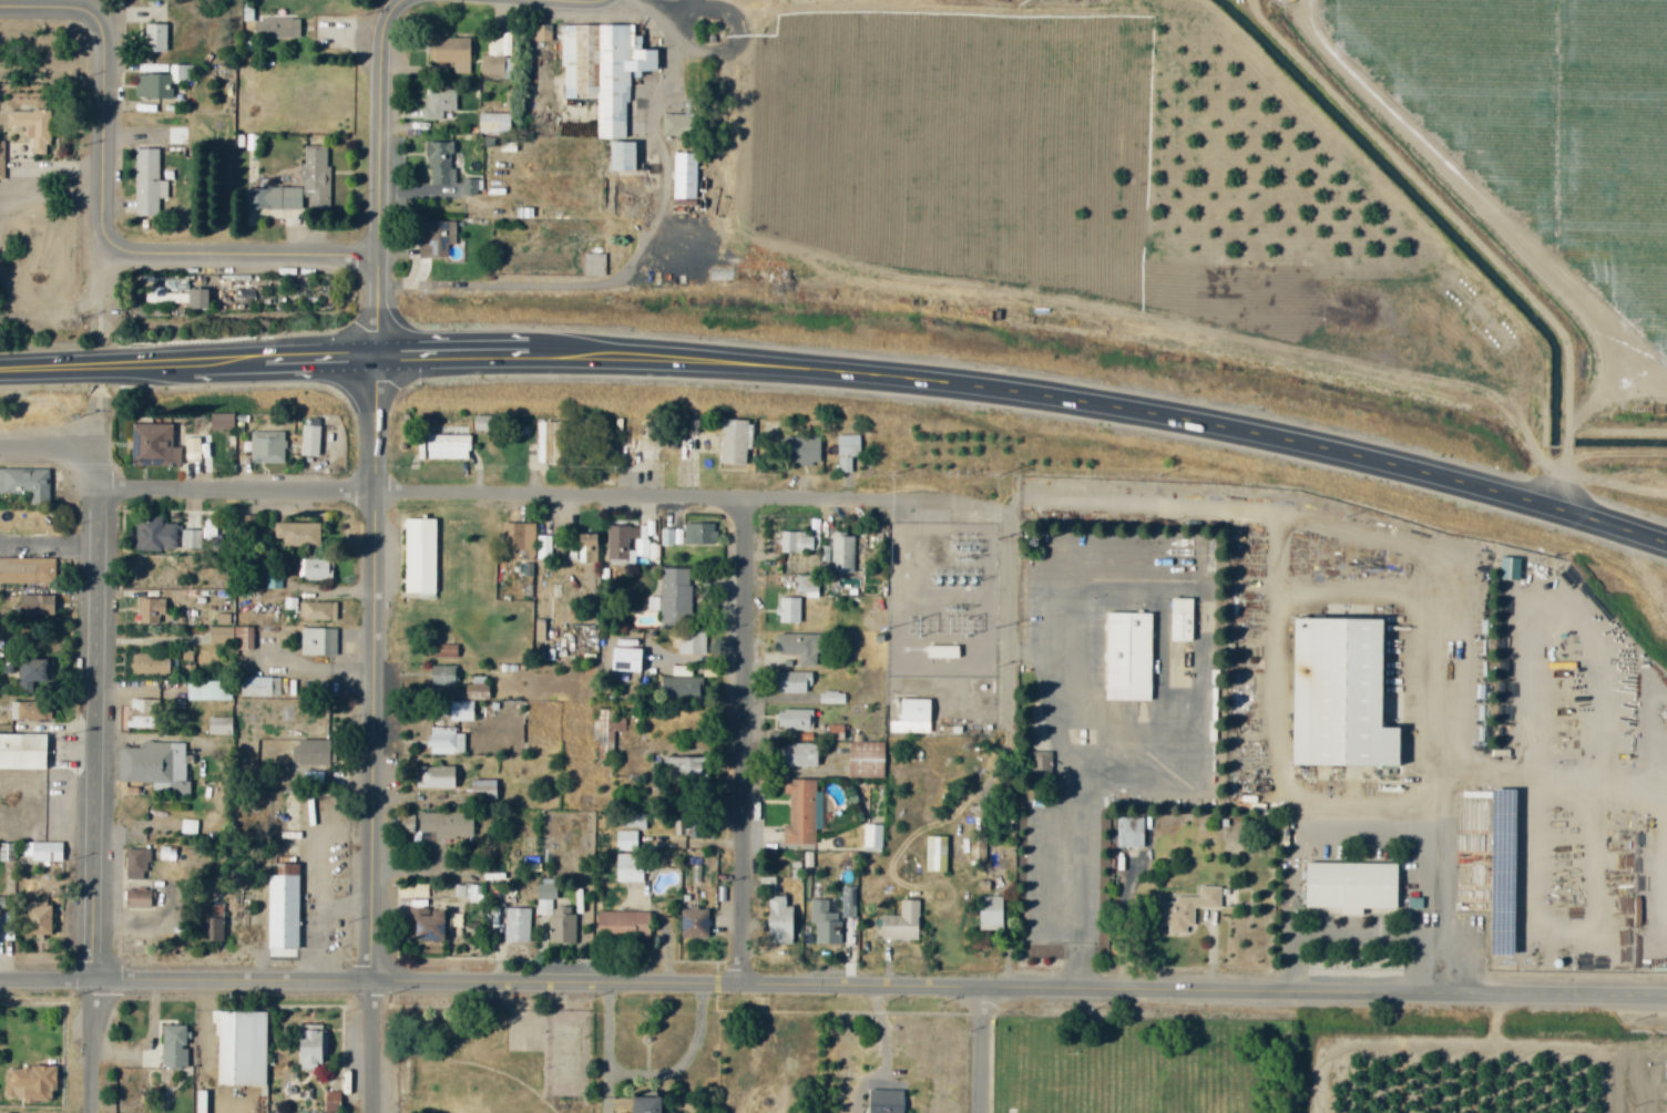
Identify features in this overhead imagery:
road: (571, 1)
road: (54, 7)
road: (397, 7)
building: (278, 28)
building: (154, 37)
building: (450, 51)
building: (495, 54)
building: (602, 70)
building: (162, 82)
building: (437, 102)
building: (492, 122)
building: (673, 124)
building: (31, 126)
road: (109, 133)
building: (176, 135)
building: (620, 156)
building: (1, 159)
building: (440, 161)
building: (314, 167)
building: (684, 175)
building: (147, 182)
road: (379, 183)
building: (470, 186)
building: (434, 237)
road: (246, 254)
building: (593, 264)
building: (168, 292)
road: (110, 293)
building: (197, 298)
road: (463, 353)
road: (309, 358)
road: (217, 361)
road: (94, 364)
railway: (833, 394)
road: (1117, 406)
road: (104, 415)
building: (221, 421)
building: (309, 441)
building: (735, 441)
building: (551, 442)
road: (50, 443)
building: (153, 445)
building: (446, 446)
building: (192, 447)
building: (266, 447)
building: (802, 450)
building: (847, 451)
building: (28, 484)
road: (654, 497)
building: (207, 529)
building: (700, 533)
building: (297, 534)
building: (154, 535)
building: (672, 536)
building: (522, 537)
building: (190, 539)
building: (626, 540)
building: (798, 542)
building: (544, 546)
building: (586, 548)
building: (842, 553)
building: (419, 556)
building: (1510, 568)
building: (316, 569)
building: (27, 570)
building: (152, 578)
building: (807, 585)
building: (673, 597)
road: (1340, 598)
building: (34, 606)
building: (150, 610)
building: (788, 610)
building: (317, 611)
building: (223, 618)
building: (1179, 619)
building: (233, 637)
building: (317, 641)
building: (691, 642)
building: (800, 647)
building: (443, 651)
building: (1127, 657)
building: (624, 660)
building: (149, 664)
road: (375, 668)
building: (34, 670)
building: (442, 674)
building: (792, 682)
building: (681, 686)
building: (258, 687)
building: (207, 690)
building: (1337, 695)
building: (831, 698)
building: (468, 700)
building: (30, 710)
building: (142, 713)
building: (911, 717)
building: (794, 720)
road: (52, 725)
building: (218, 725)
building: (606, 733)
building: (444, 741)
road: (745, 741)
building: (23, 751)
road: (74, 752)
building: (310, 752)
building: (798, 755)
building: (866, 760)
building: (155, 766)
building: (688, 769)
building: (313, 777)
building: (436, 777)
road: (102, 779)
building: (481, 791)
building: (799, 812)
building: (631, 821)
building: (446, 824)
building: (188, 826)
building: (1129, 832)
building: (872, 836)
building: (625, 841)
building: (45, 852)
building: (166, 854)
building: (935, 854)
building: (135, 864)
building: (628, 868)
road: (1082, 879)
building: (1349, 887)
building: (469, 893)
building: (136, 898)
building: (848, 901)
building: (691, 905)
building: (282, 906)
building: (1185, 908)
building: (989, 913)
building: (513, 918)
building: (556, 918)
building: (34, 921)
building: (778, 921)
building: (211, 923)
building: (825, 923)
building: (901, 923)
building: (622, 924)
building: (693, 924)
building: (430, 925)
building: (6, 926)
road: (188, 981)
road: (1022, 987)
building: (173, 1045)
building: (309, 1045)
building: (239, 1047)
road: (377, 1048)
road: (990, 1050)
road: (645, 1075)
building: (29, 1081)
building: (884, 1101)
building: (643, 1104)

